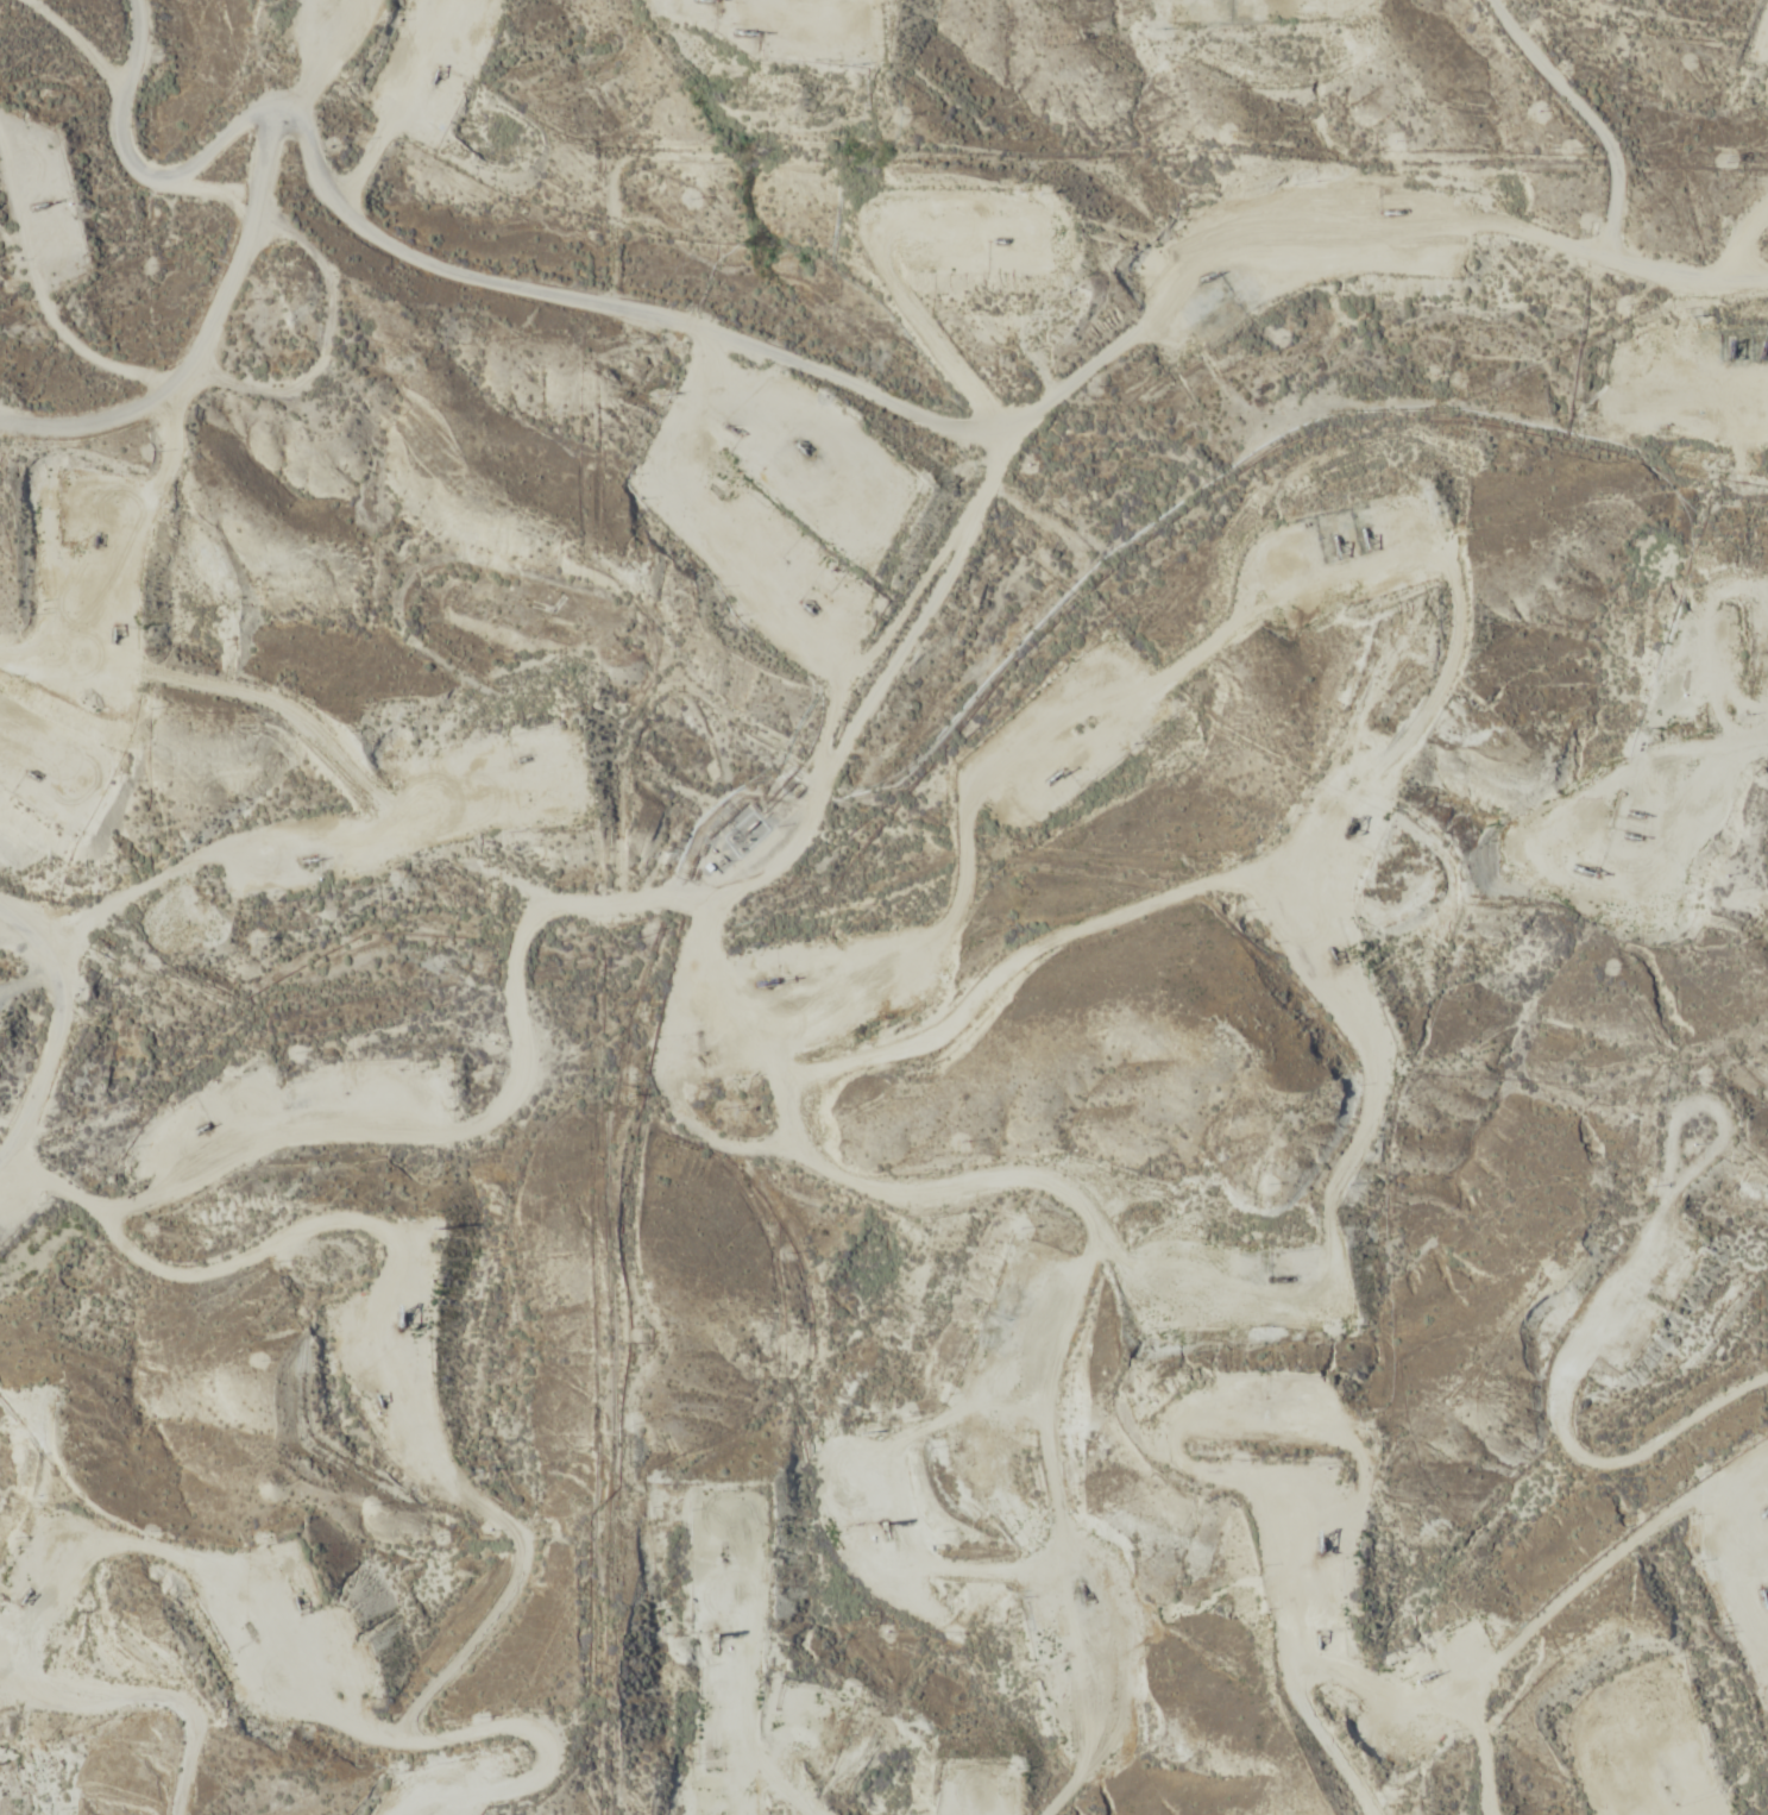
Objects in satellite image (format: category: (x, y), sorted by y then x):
road: (1744, 12)
road: (313, 83)
road: (1288, 224)
road: (635, 313)
road: (201, 314)
road: (968, 519)
building: (447, 792)
road: (1191, 877)
road: (15, 1050)
road: (415, 1329)
road: (886, 1396)
road: (1603, 1576)
road: (1693, 1684)
road: (145, 1697)

